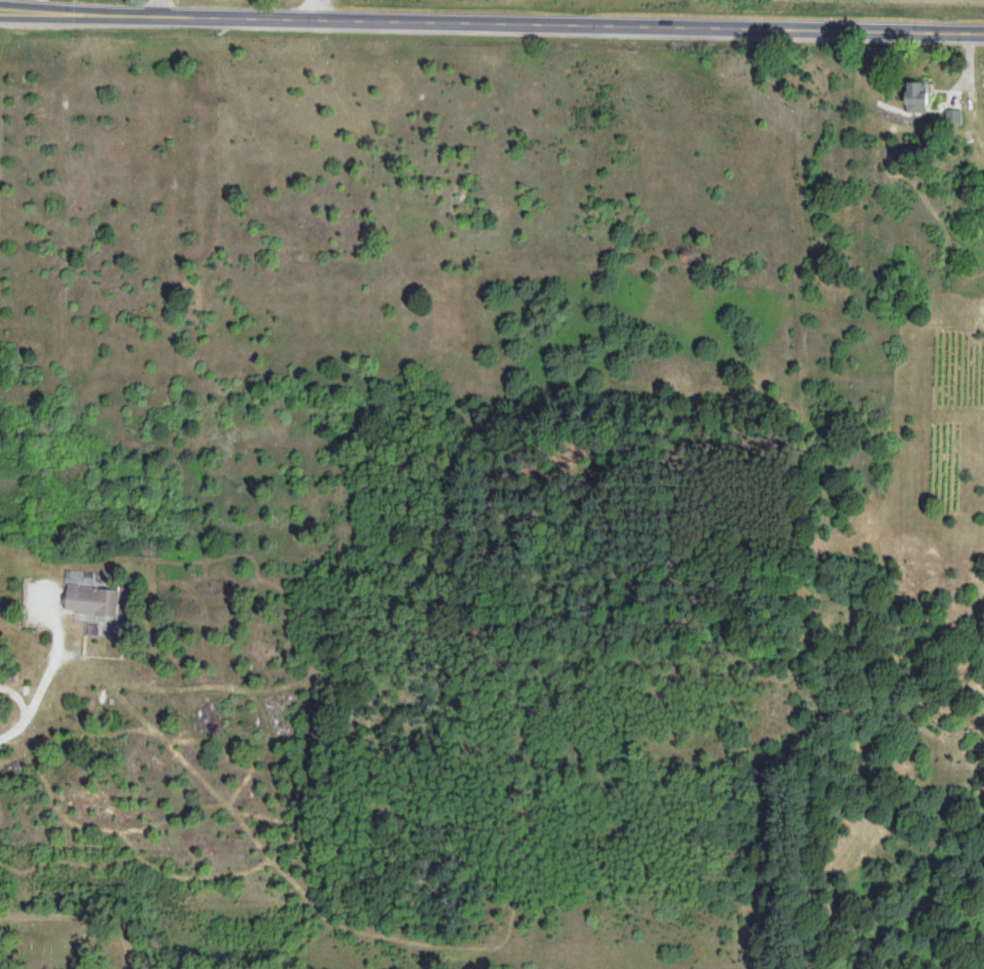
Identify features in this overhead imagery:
road: (157, 8)
road: (318, 11)
road: (491, 25)
building: (916, 97)
building: (92, 601)
road: (42, 677)
park: (73, 933)

